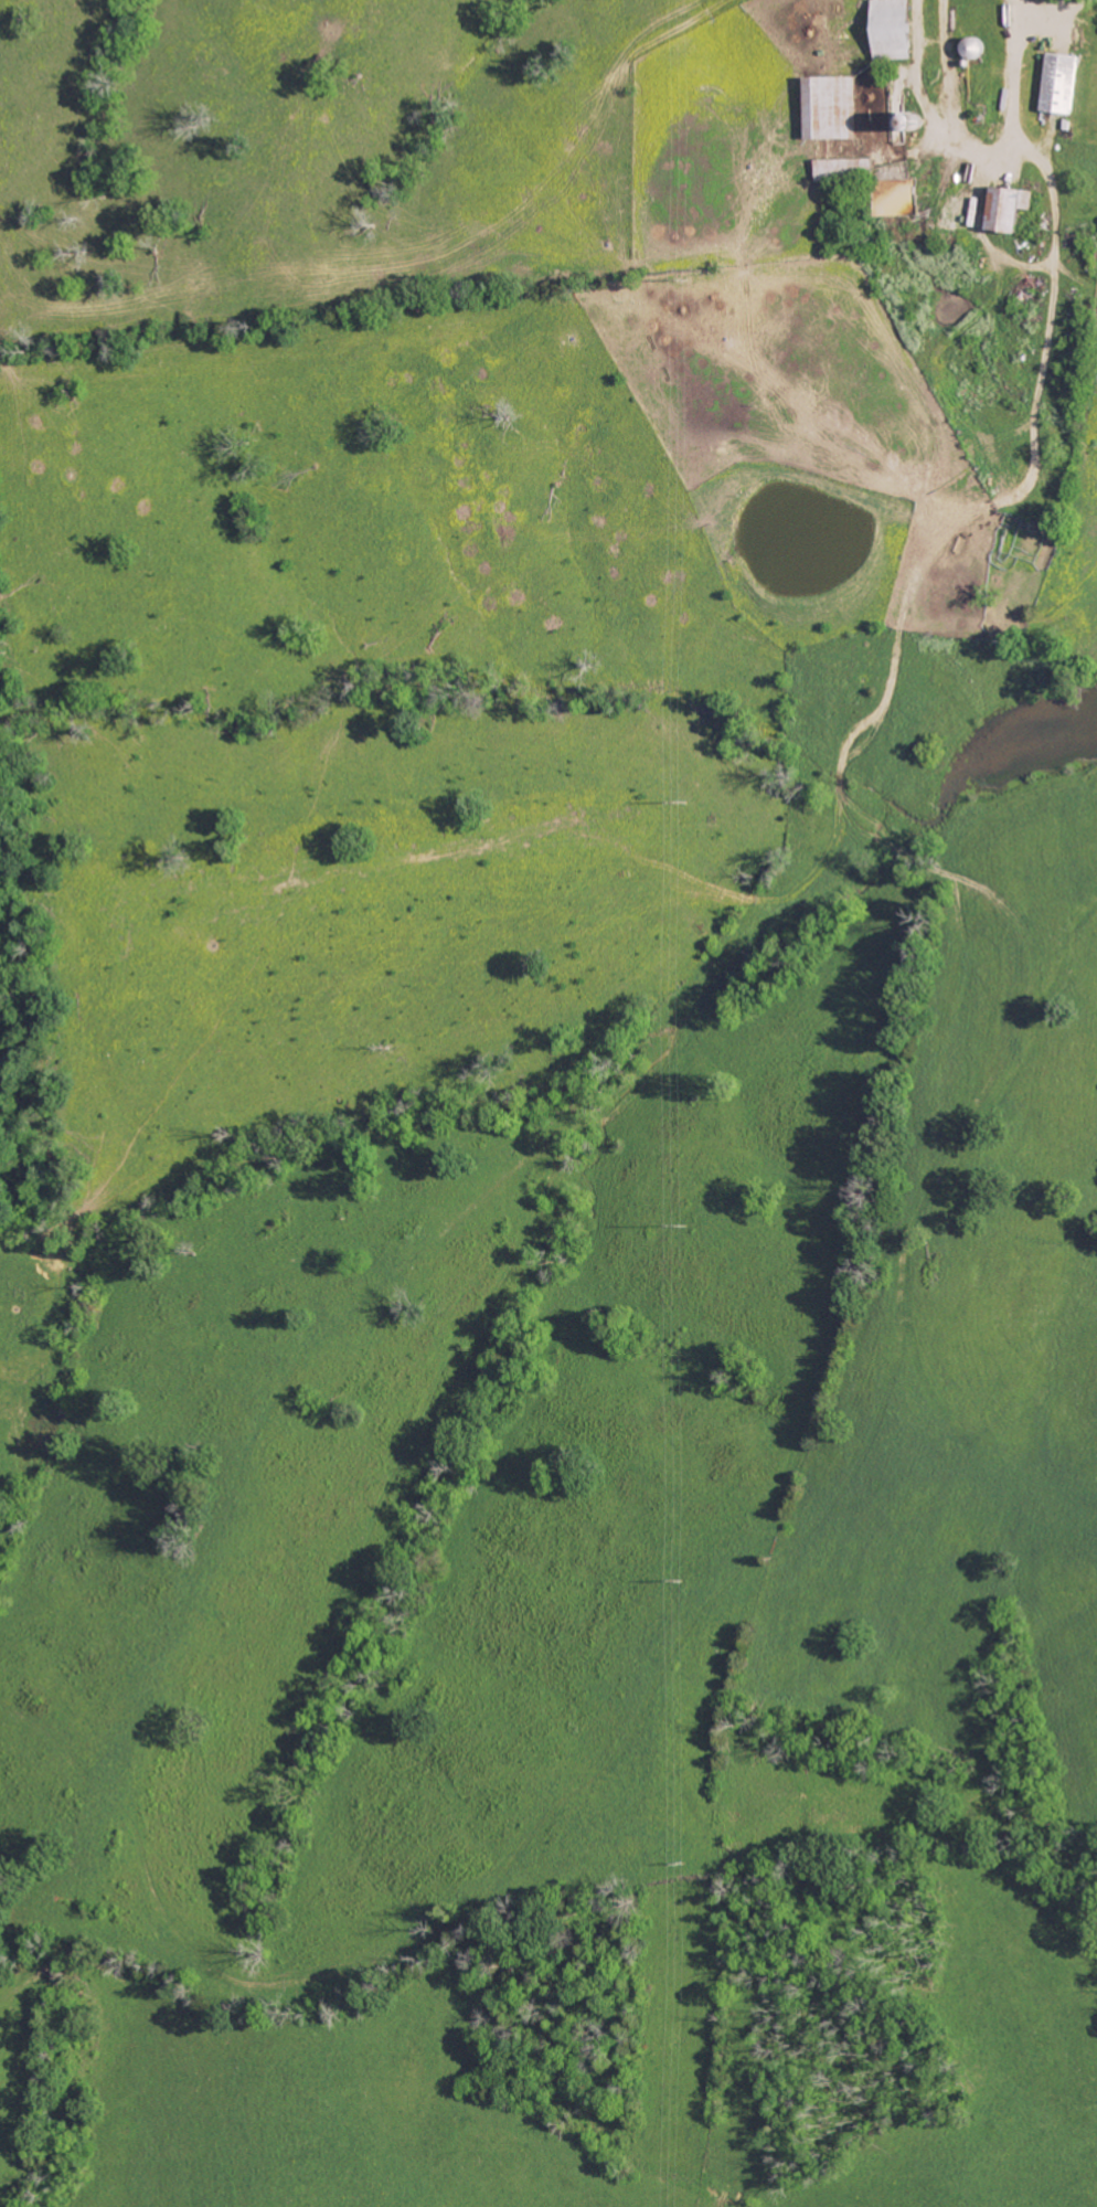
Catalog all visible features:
building: (886, 29)
building: (1054, 83)
building: (839, 167)
building: (998, 209)

